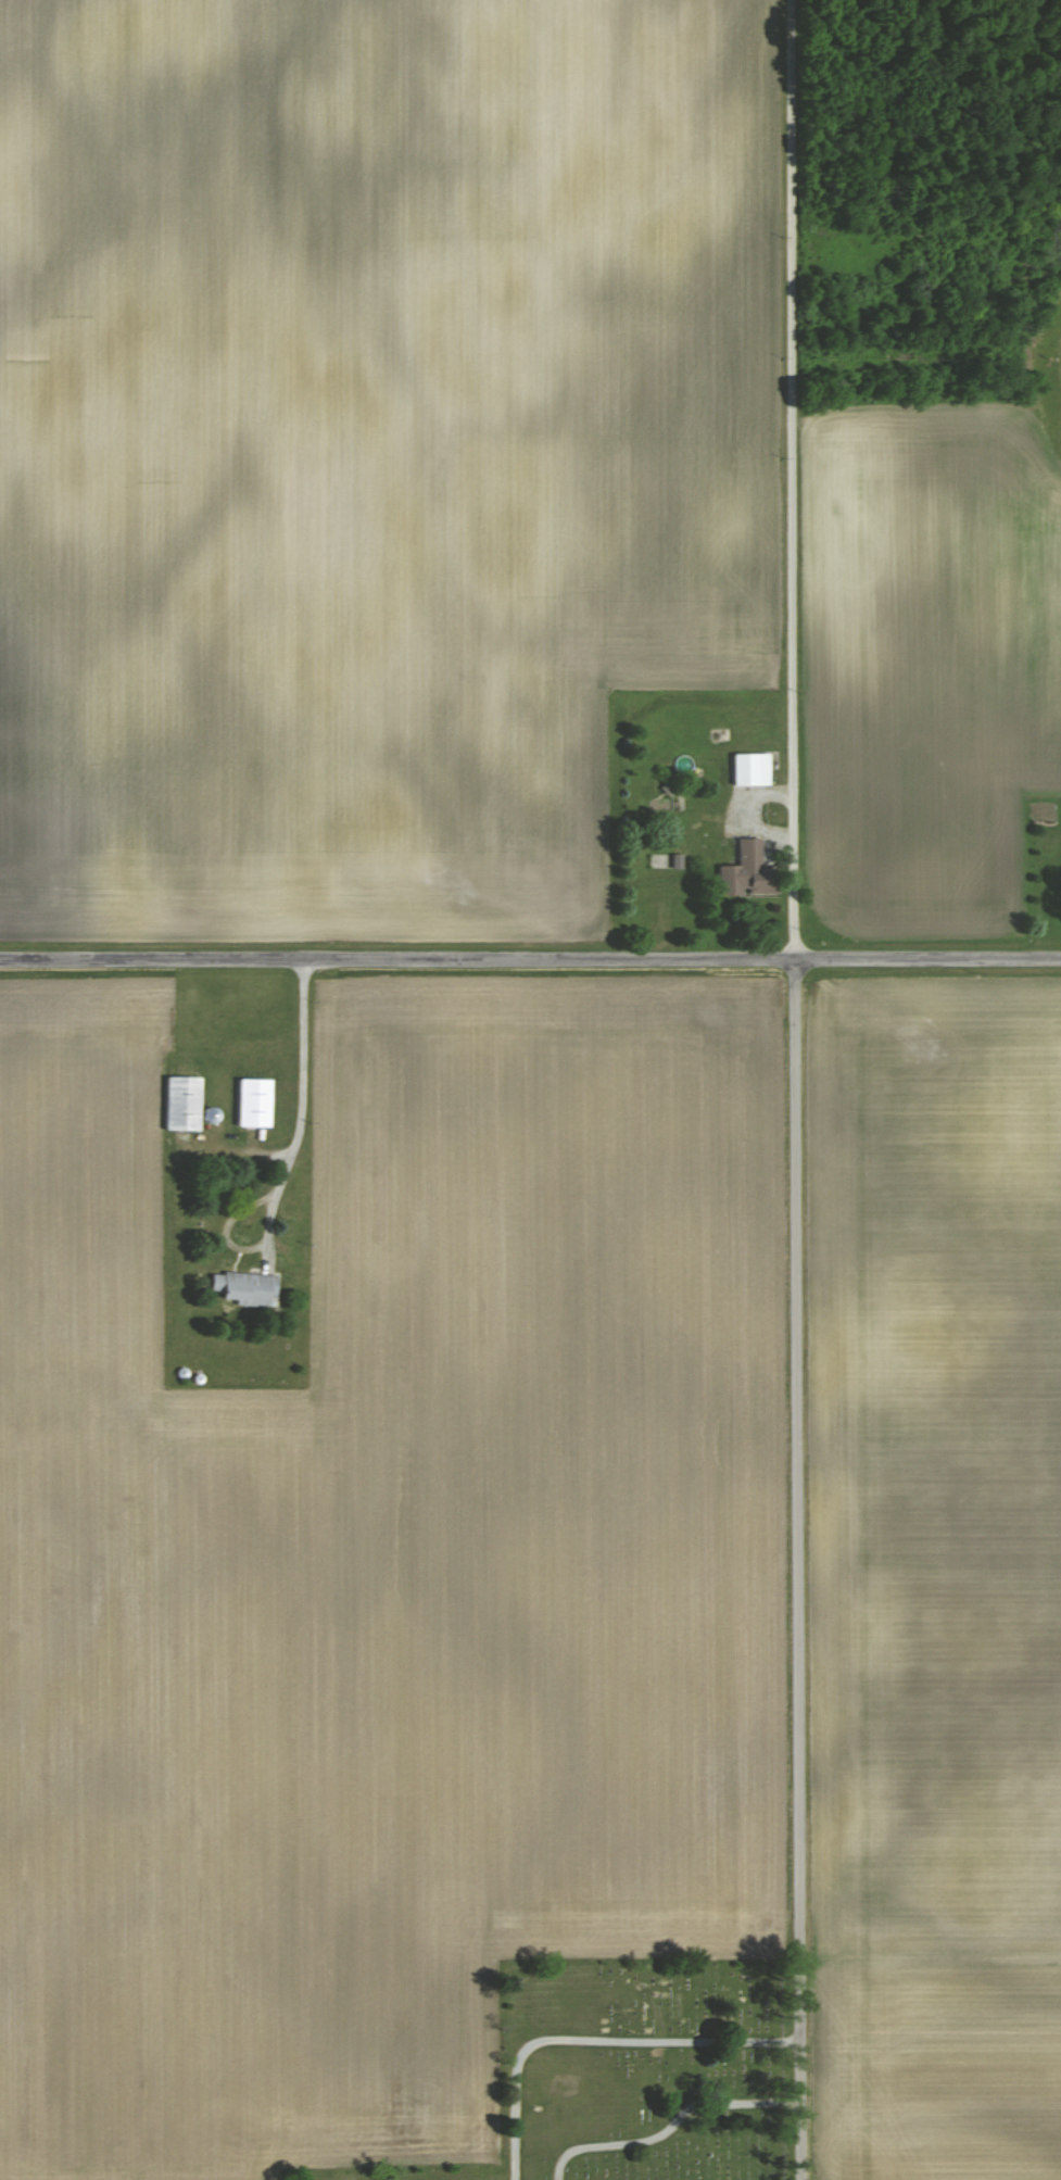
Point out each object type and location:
road: (795, 480)
building: (750, 768)
building: (748, 871)
road: (530, 961)
building: (253, 1101)
road: (308, 1102)
building: (186, 1104)
building: (244, 1287)
road: (799, 1571)

